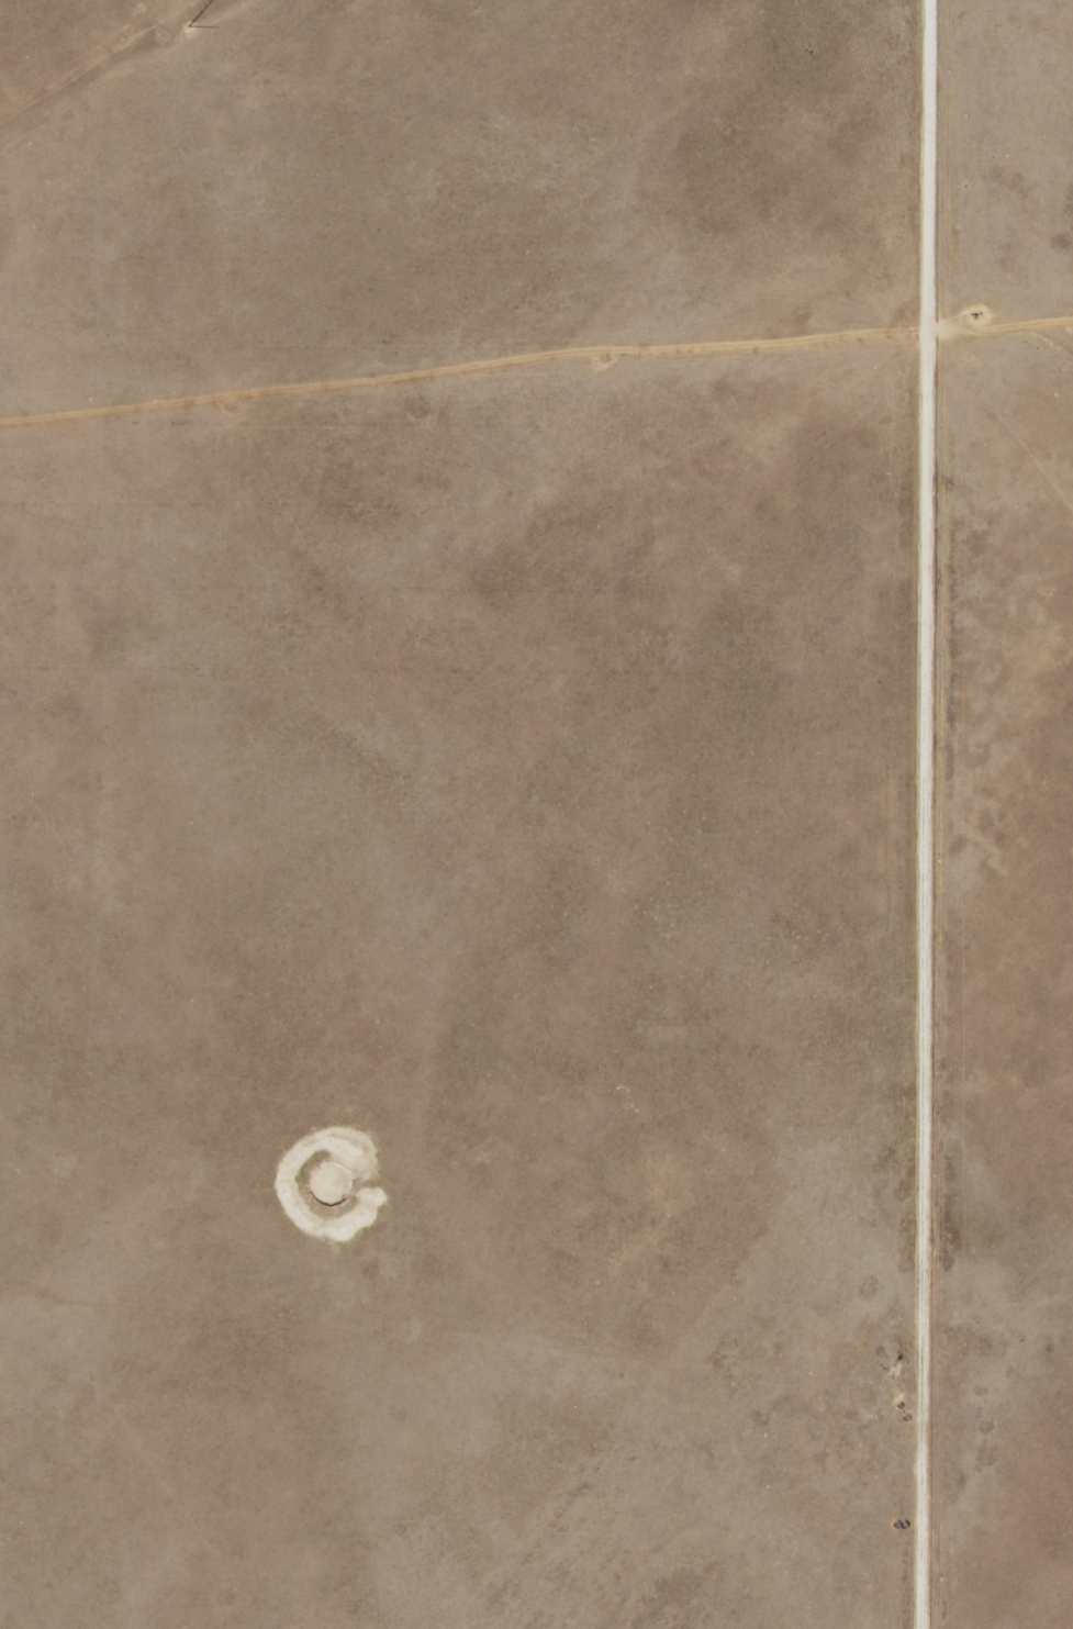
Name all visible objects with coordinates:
power tower: (160, 36)

